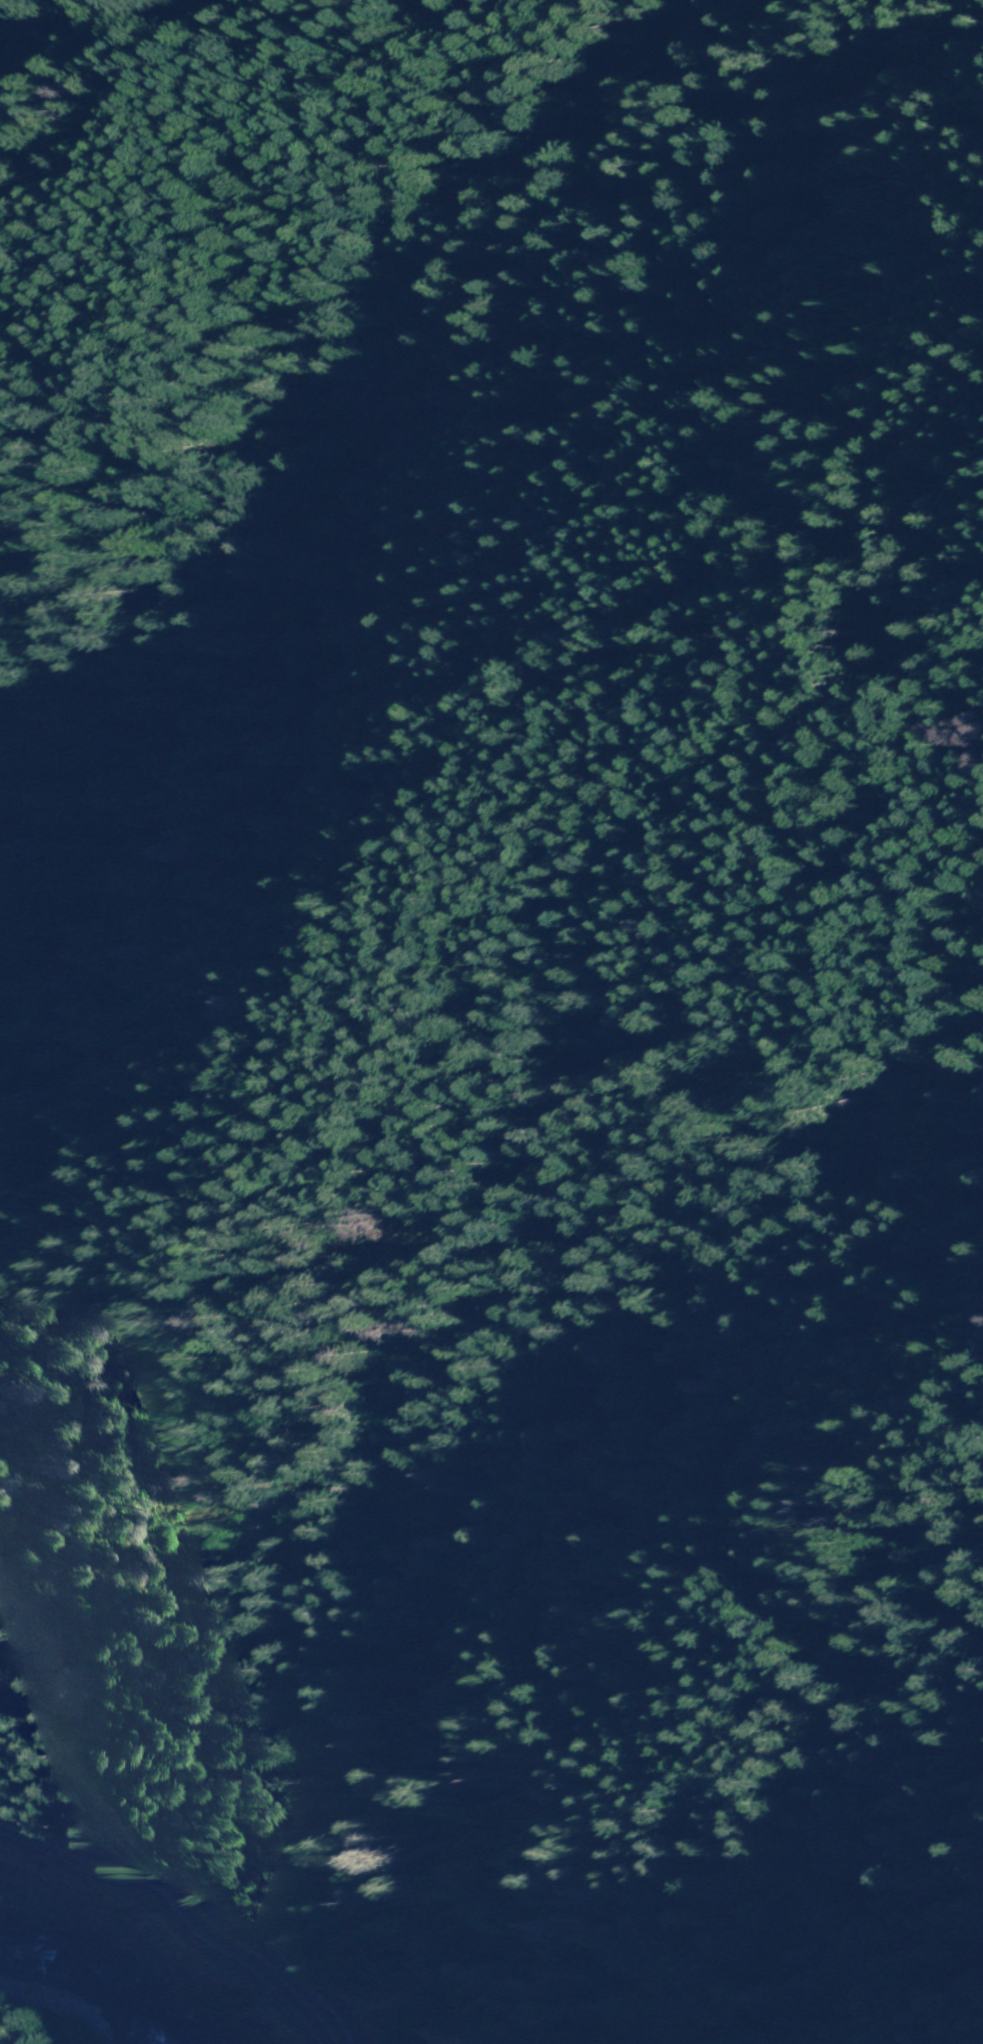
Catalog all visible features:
road: (158, 1906)
river: (91, 1973)

